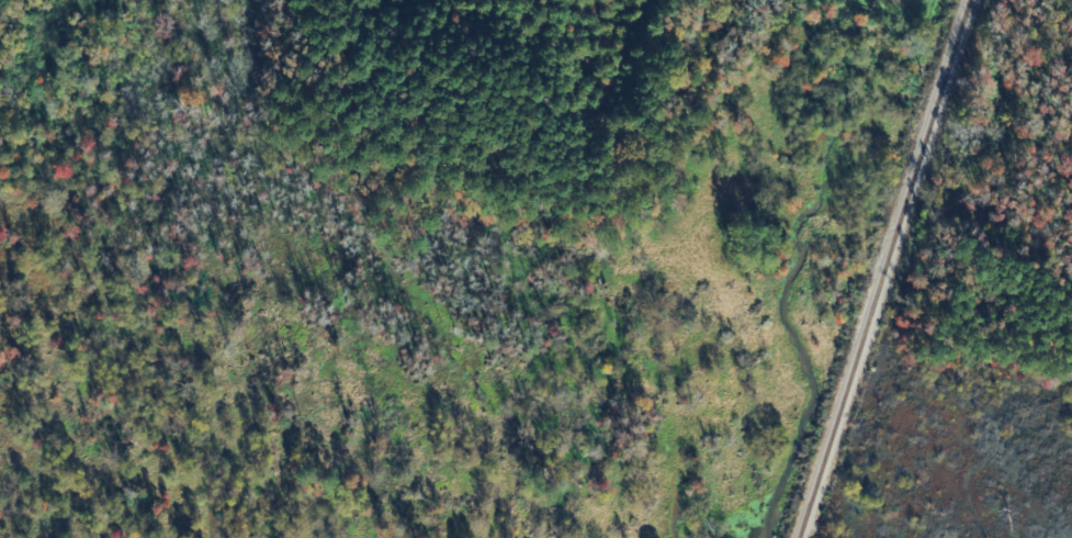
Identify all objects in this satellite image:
wastewater plant: (906, 8)
railway: (882, 268)

